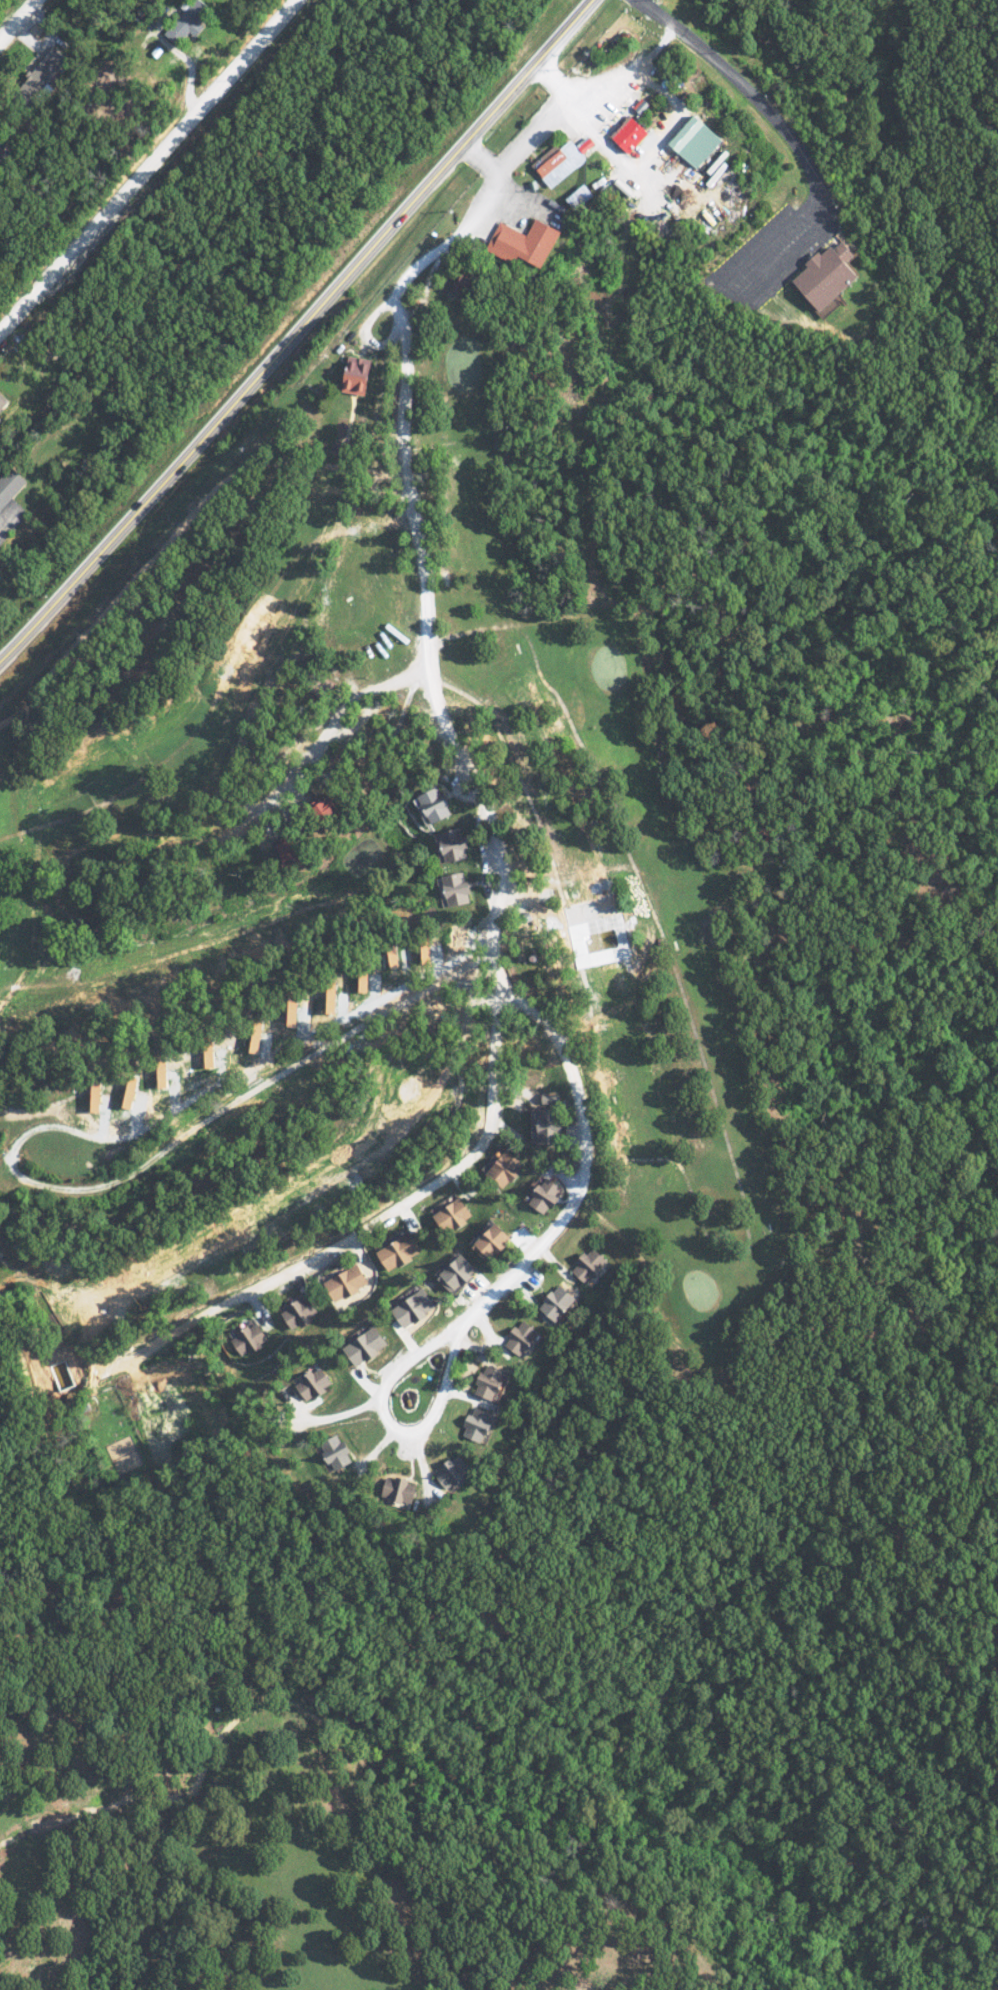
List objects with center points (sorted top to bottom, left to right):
building: (191, 21)
road: (21, 23)
road: (624, 72)
building: (48, 73)
building: (632, 134)
road: (789, 137)
building: (697, 141)
building: (3, 146)
road: (479, 156)
building: (560, 163)
road: (147, 164)
road: (452, 189)
building: (582, 197)
building: (526, 242)
building: (831, 274)
road: (295, 327)
building: (360, 375)
building: (4, 402)
building: (1, 421)
building: (11, 487)
road: (416, 519)
building: (437, 805)
road: (267, 811)
building: (455, 844)
building: (295, 849)
building: (459, 888)
building: (549, 1121)
building: (507, 1167)
building: (547, 1195)
building: (453, 1214)
road: (348, 1236)
building: (495, 1241)
building: (401, 1250)
building: (591, 1265)
building: (459, 1273)
road: (505, 1273)
building: (348, 1282)
building: (560, 1302)
building: (415, 1307)
building: (299, 1311)
building: (523, 1337)
building: (251, 1338)
building: (366, 1346)
building: (493, 1381)
building: (315, 1383)
building: (479, 1424)
building: (337, 1451)
building: (454, 1471)
building: (400, 1490)

